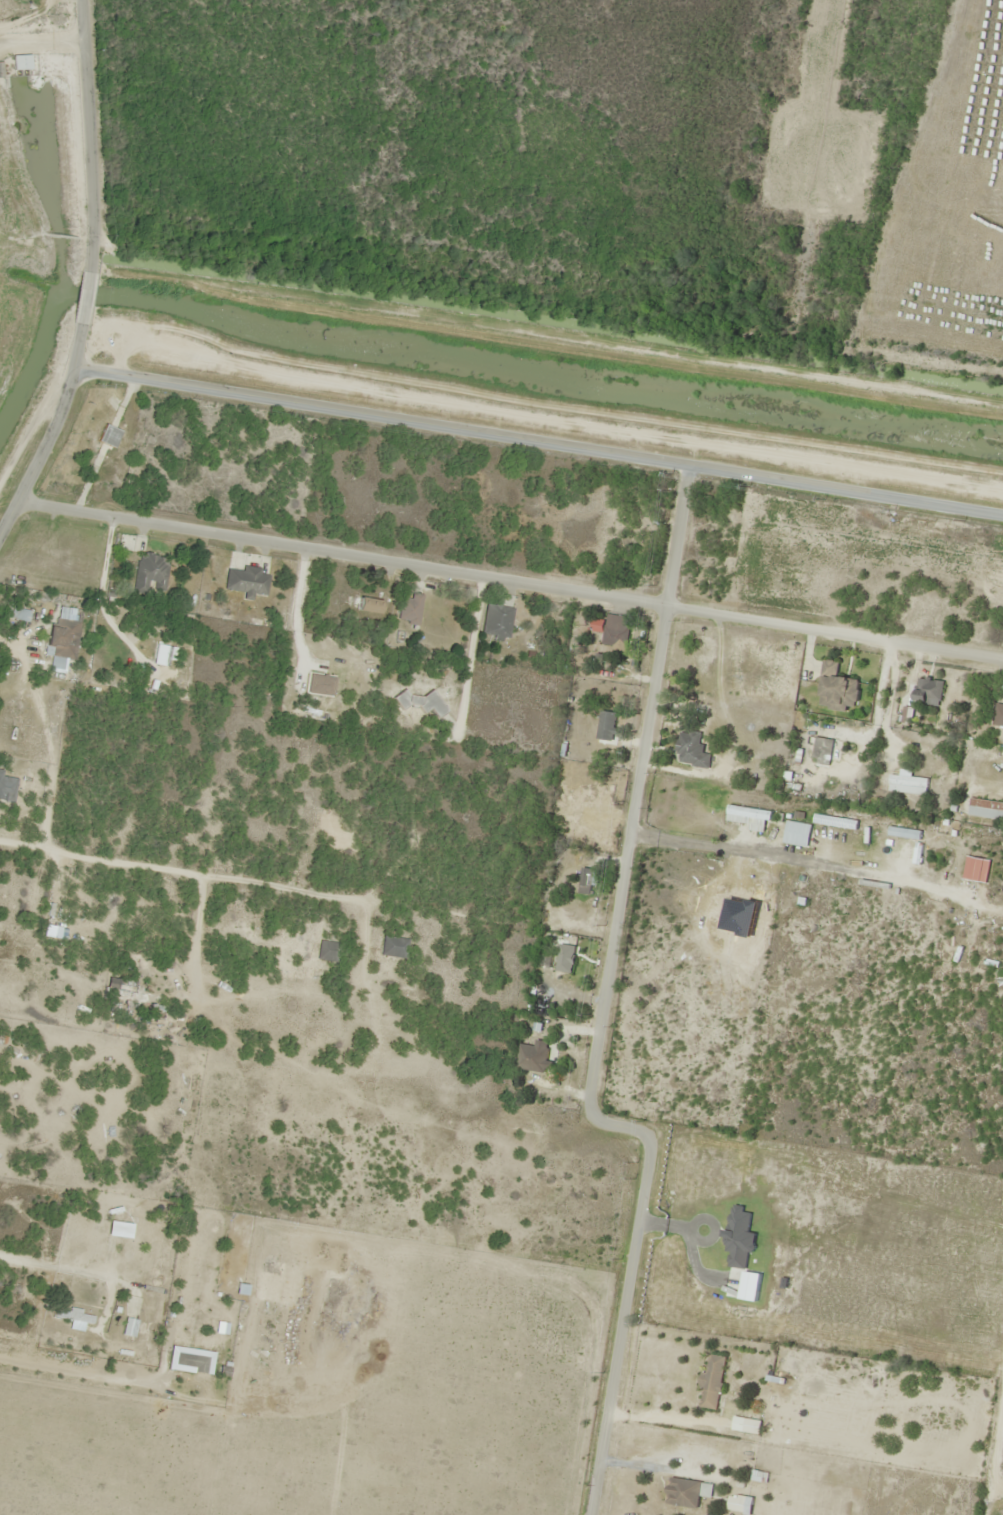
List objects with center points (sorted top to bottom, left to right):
building: (17, 62)
road: (78, 182)
road: (546, 439)
road: (39, 440)
road: (675, 533)
building: (148, 573)
road: (509, 578)
building: (245, 581)
building: (358, 605)
building: (407, 609)
building: (16, 614)
building: (495, 619)
building: (615, 630)
building: (62, 634)
building: (311, 688)
building: (836, 689)
building: (929, 691)
building: (418, 702)
building: (998, 715)
building: (606, 726)
building: (821, 750)
building: (691, 751)
building: (907, 785)
building: (985, 809)
road: (624, 861)
building: (587, 881)
building: (391, 947)
building: (327, 952)
road: (325, 1056)
building: (533, 1058)
building: (72, 1319)
road: (619, 1325)
building: (127, 1328)
building: (711, 1382)
building: (682, 1493)
building: (738, 1505)

